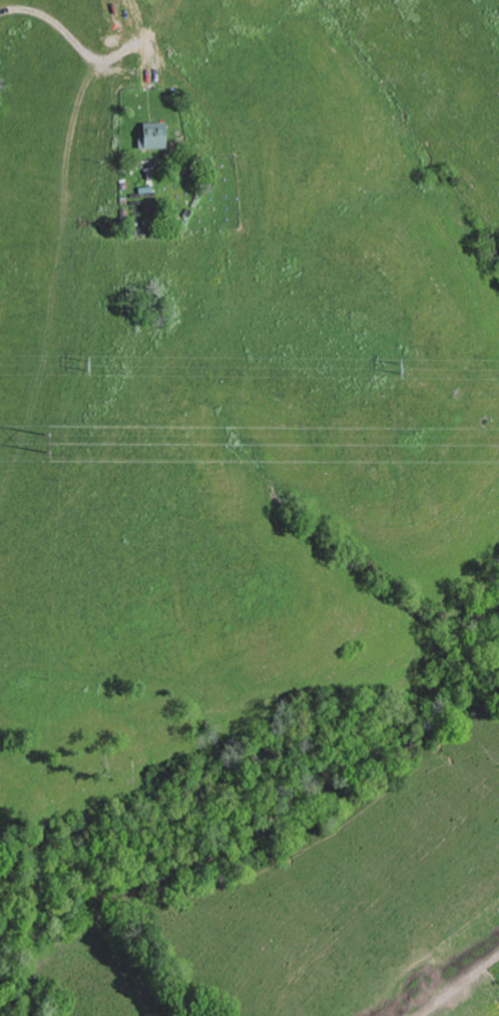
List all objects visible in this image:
road: (78, 42)
power tower: (79, 362)
power tower: (399, 365)
power tower: (43, 441)

